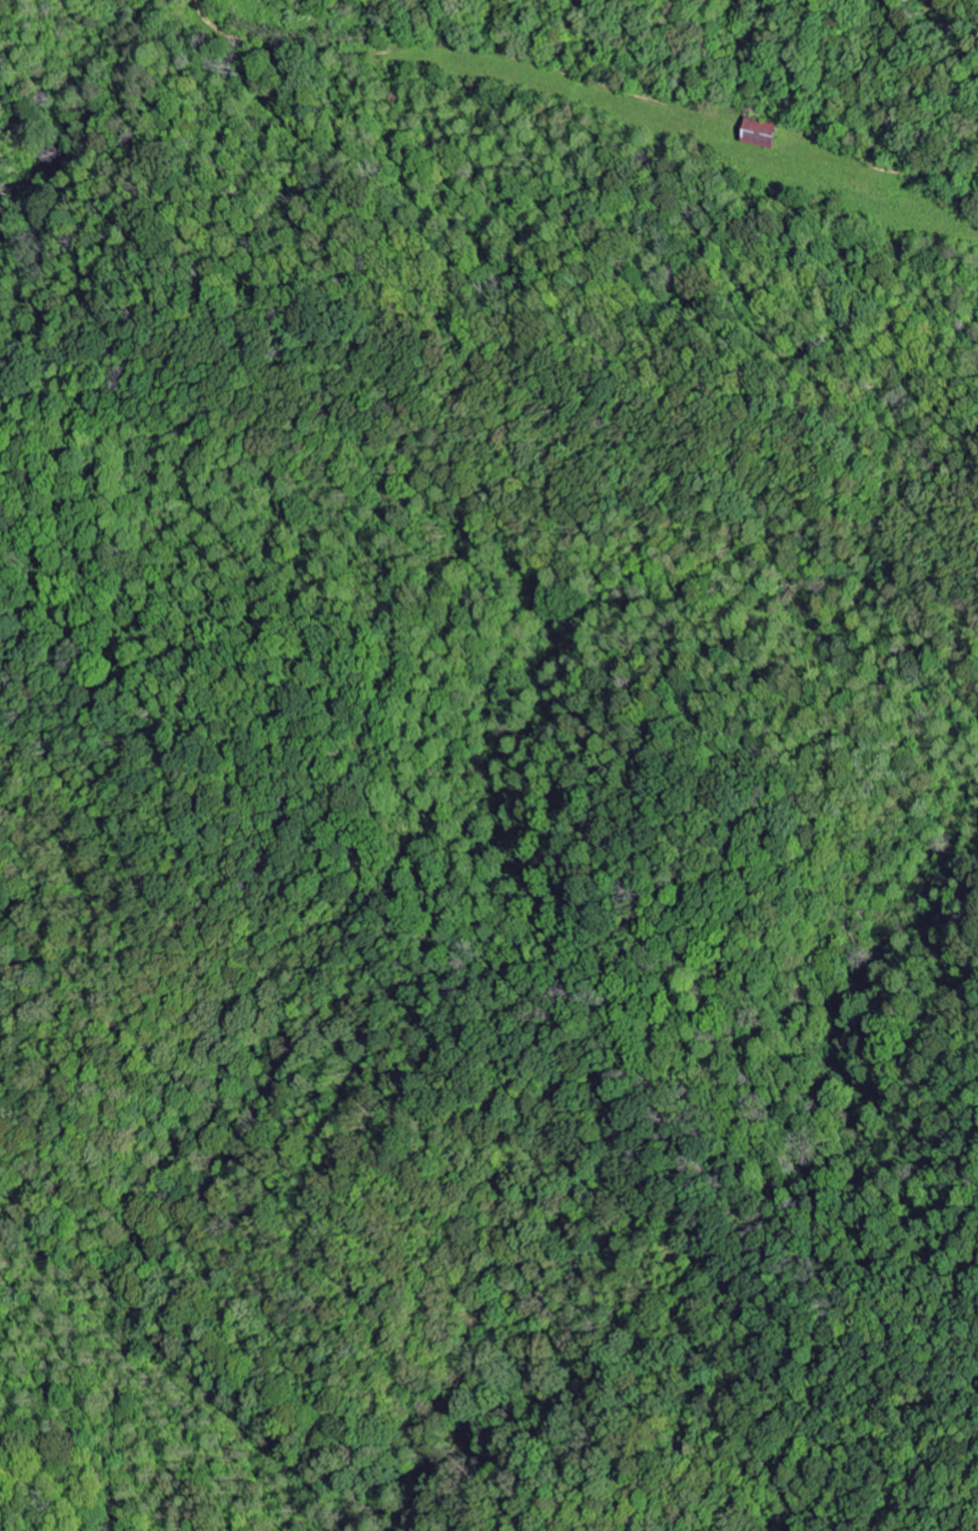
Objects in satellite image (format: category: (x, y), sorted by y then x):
building: (760, 134)

